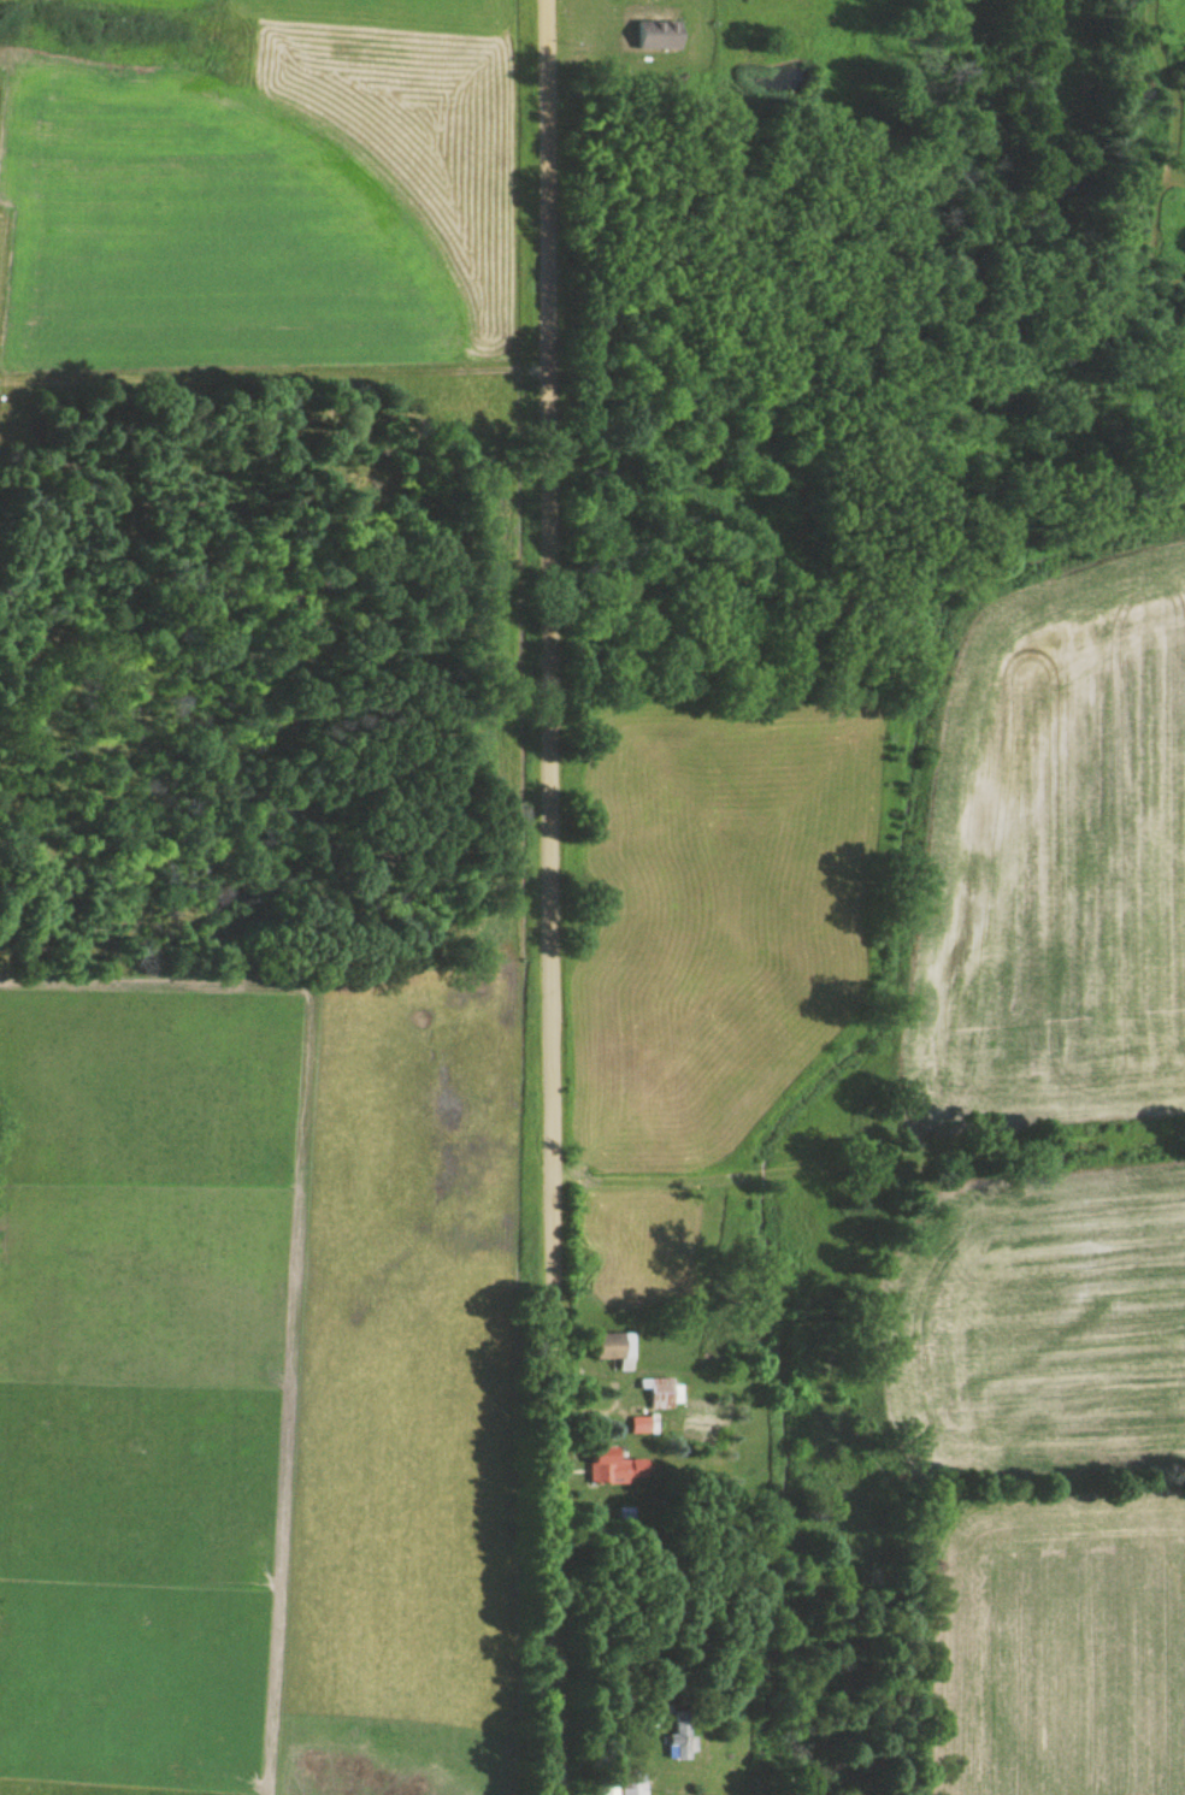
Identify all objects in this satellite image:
building: (655, 37)
road: (549, 897)
building: (613, 1351)
building: (659, 1394)
building: (638, 1428)
building: (612, 1470)
building: (678, 1742)
building: (621, 1785)

